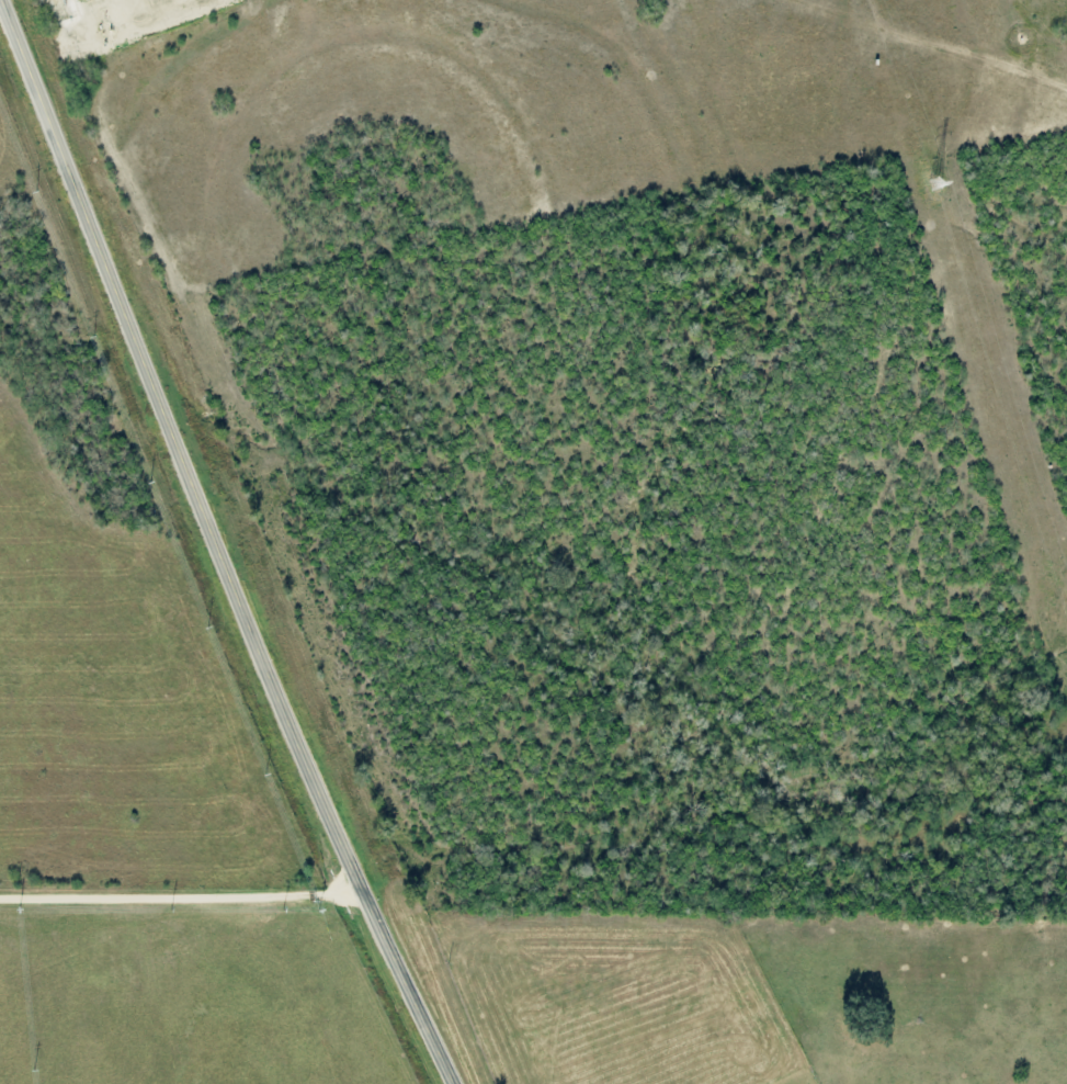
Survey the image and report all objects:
power tower: (935, 188)
road: (223, 545)

